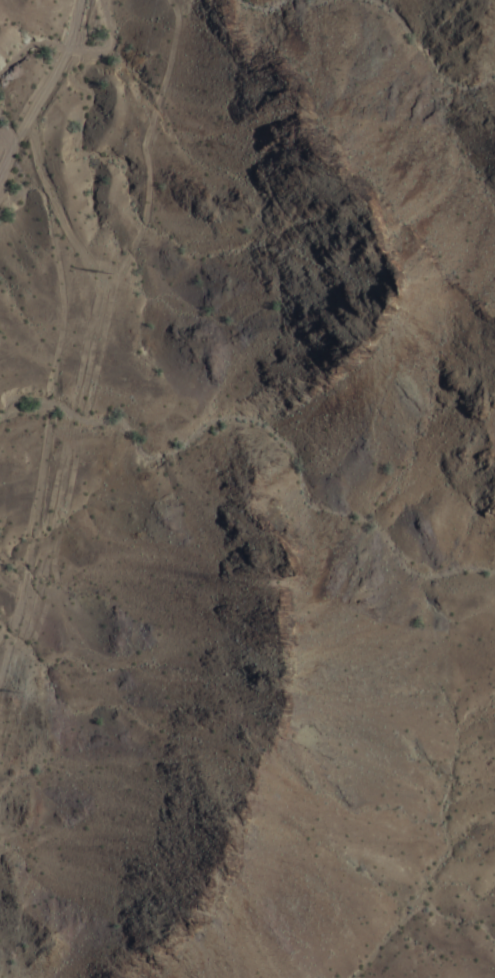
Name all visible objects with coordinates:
power tower: (111, 272)
power tower: (14, 689)

